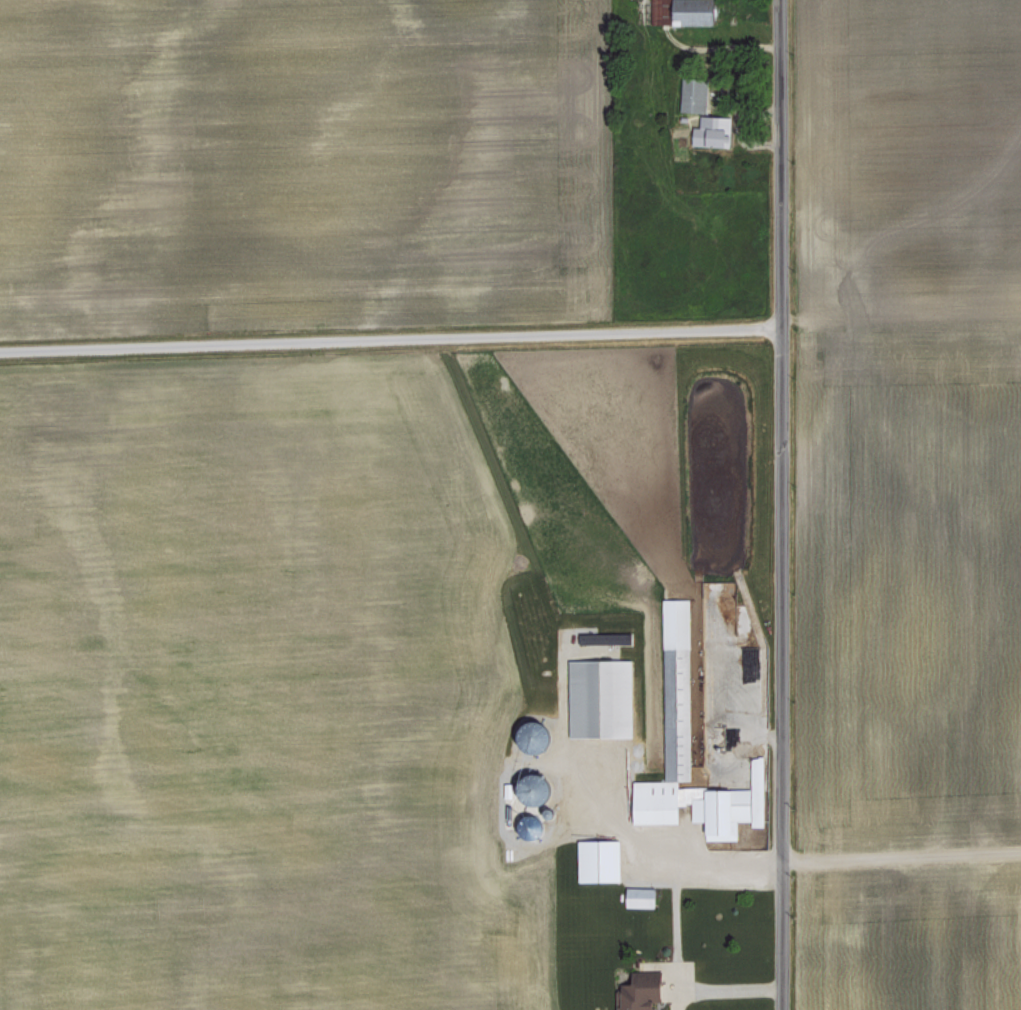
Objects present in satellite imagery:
building: (684, 13)
building: (696, 93)
road: (387, 338)
road: (778, 504)
building: (678, 676)
building: (604, 697)
road: (899, 849)
building: (642, 896)
road: (674, 922)
building: (640, 994)
road: (677, 997)

